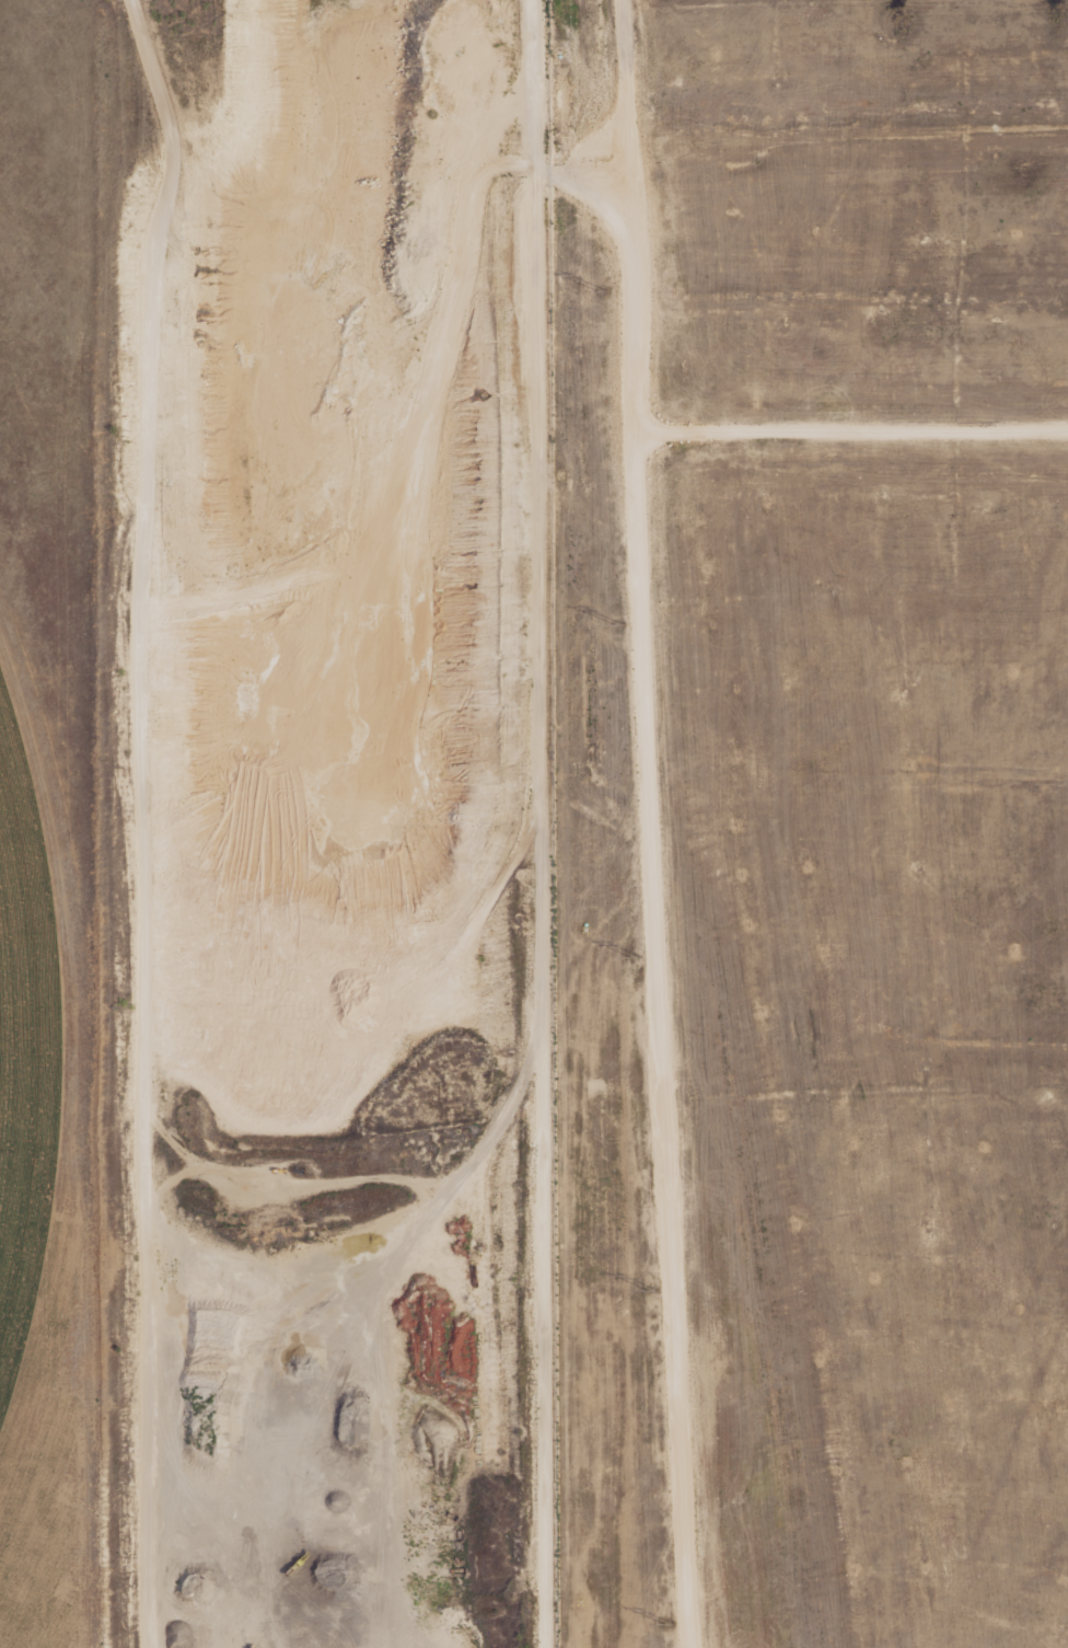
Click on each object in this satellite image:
road: (580, 181)
power tower: (602, 291)
road: (635, 430)
road: (534, 518)
road: (142, 550)
power tower: (618, 625)
landfill: (817, 823)
power tower: (636, 958)
road: (658, 1039)
road: (406, 1179)
road: (170, 1180)
power tower: (652, 1291)
power tower: (669, 1625)

